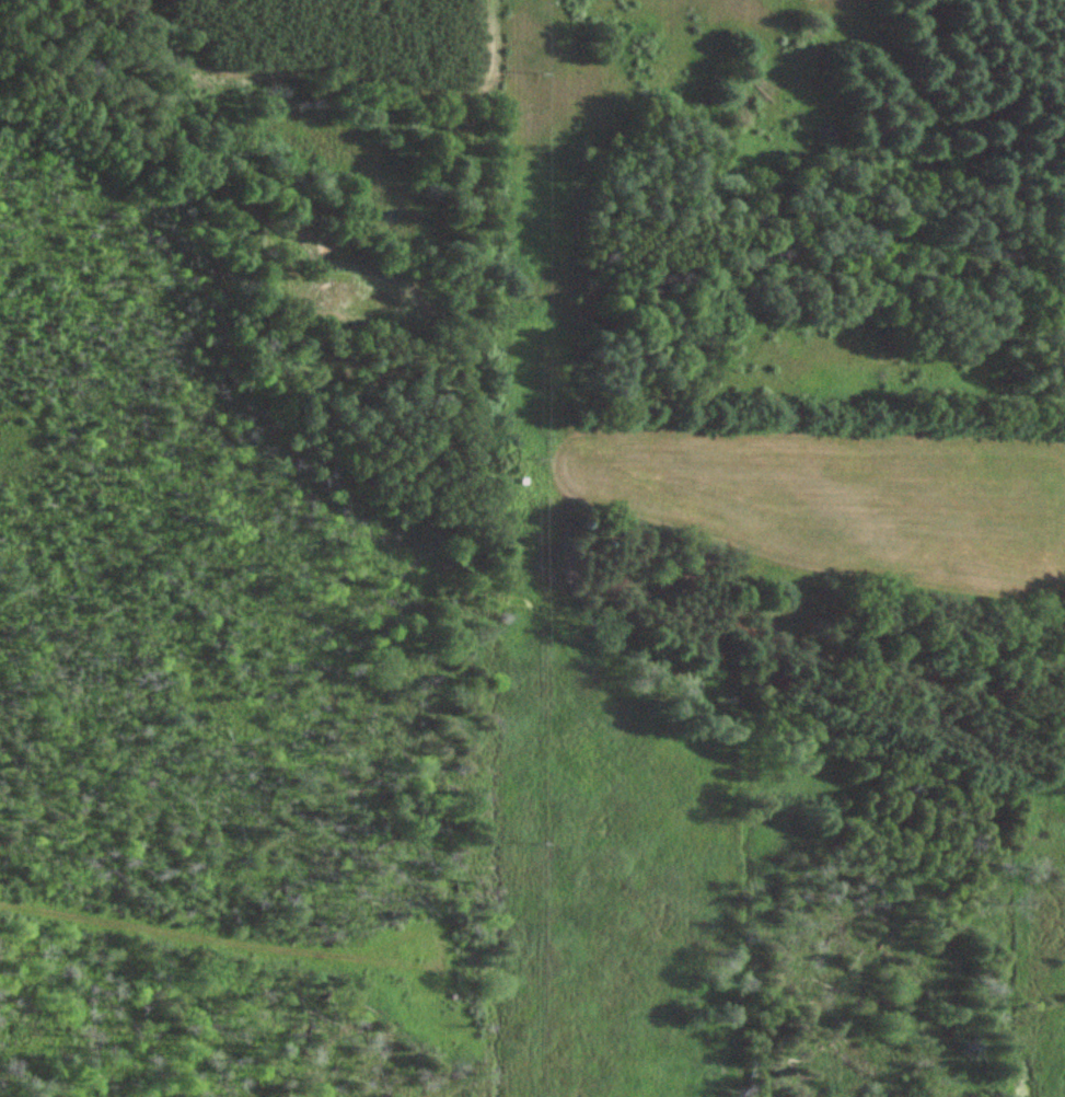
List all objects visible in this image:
road: (977, 965)

